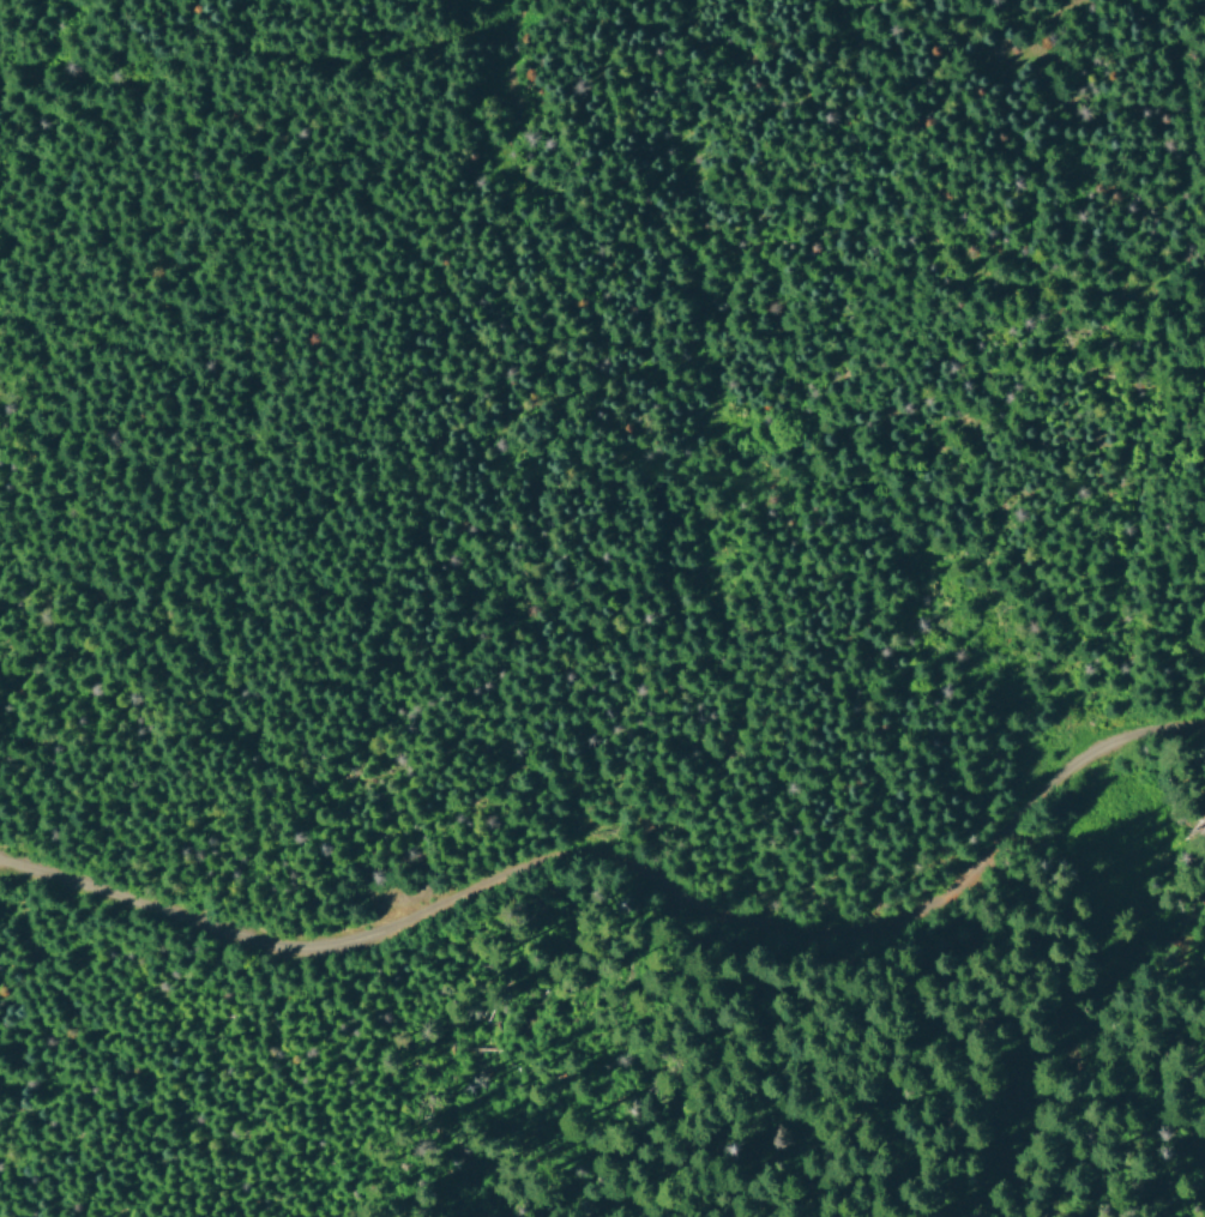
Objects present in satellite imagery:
road: (627, 867)

